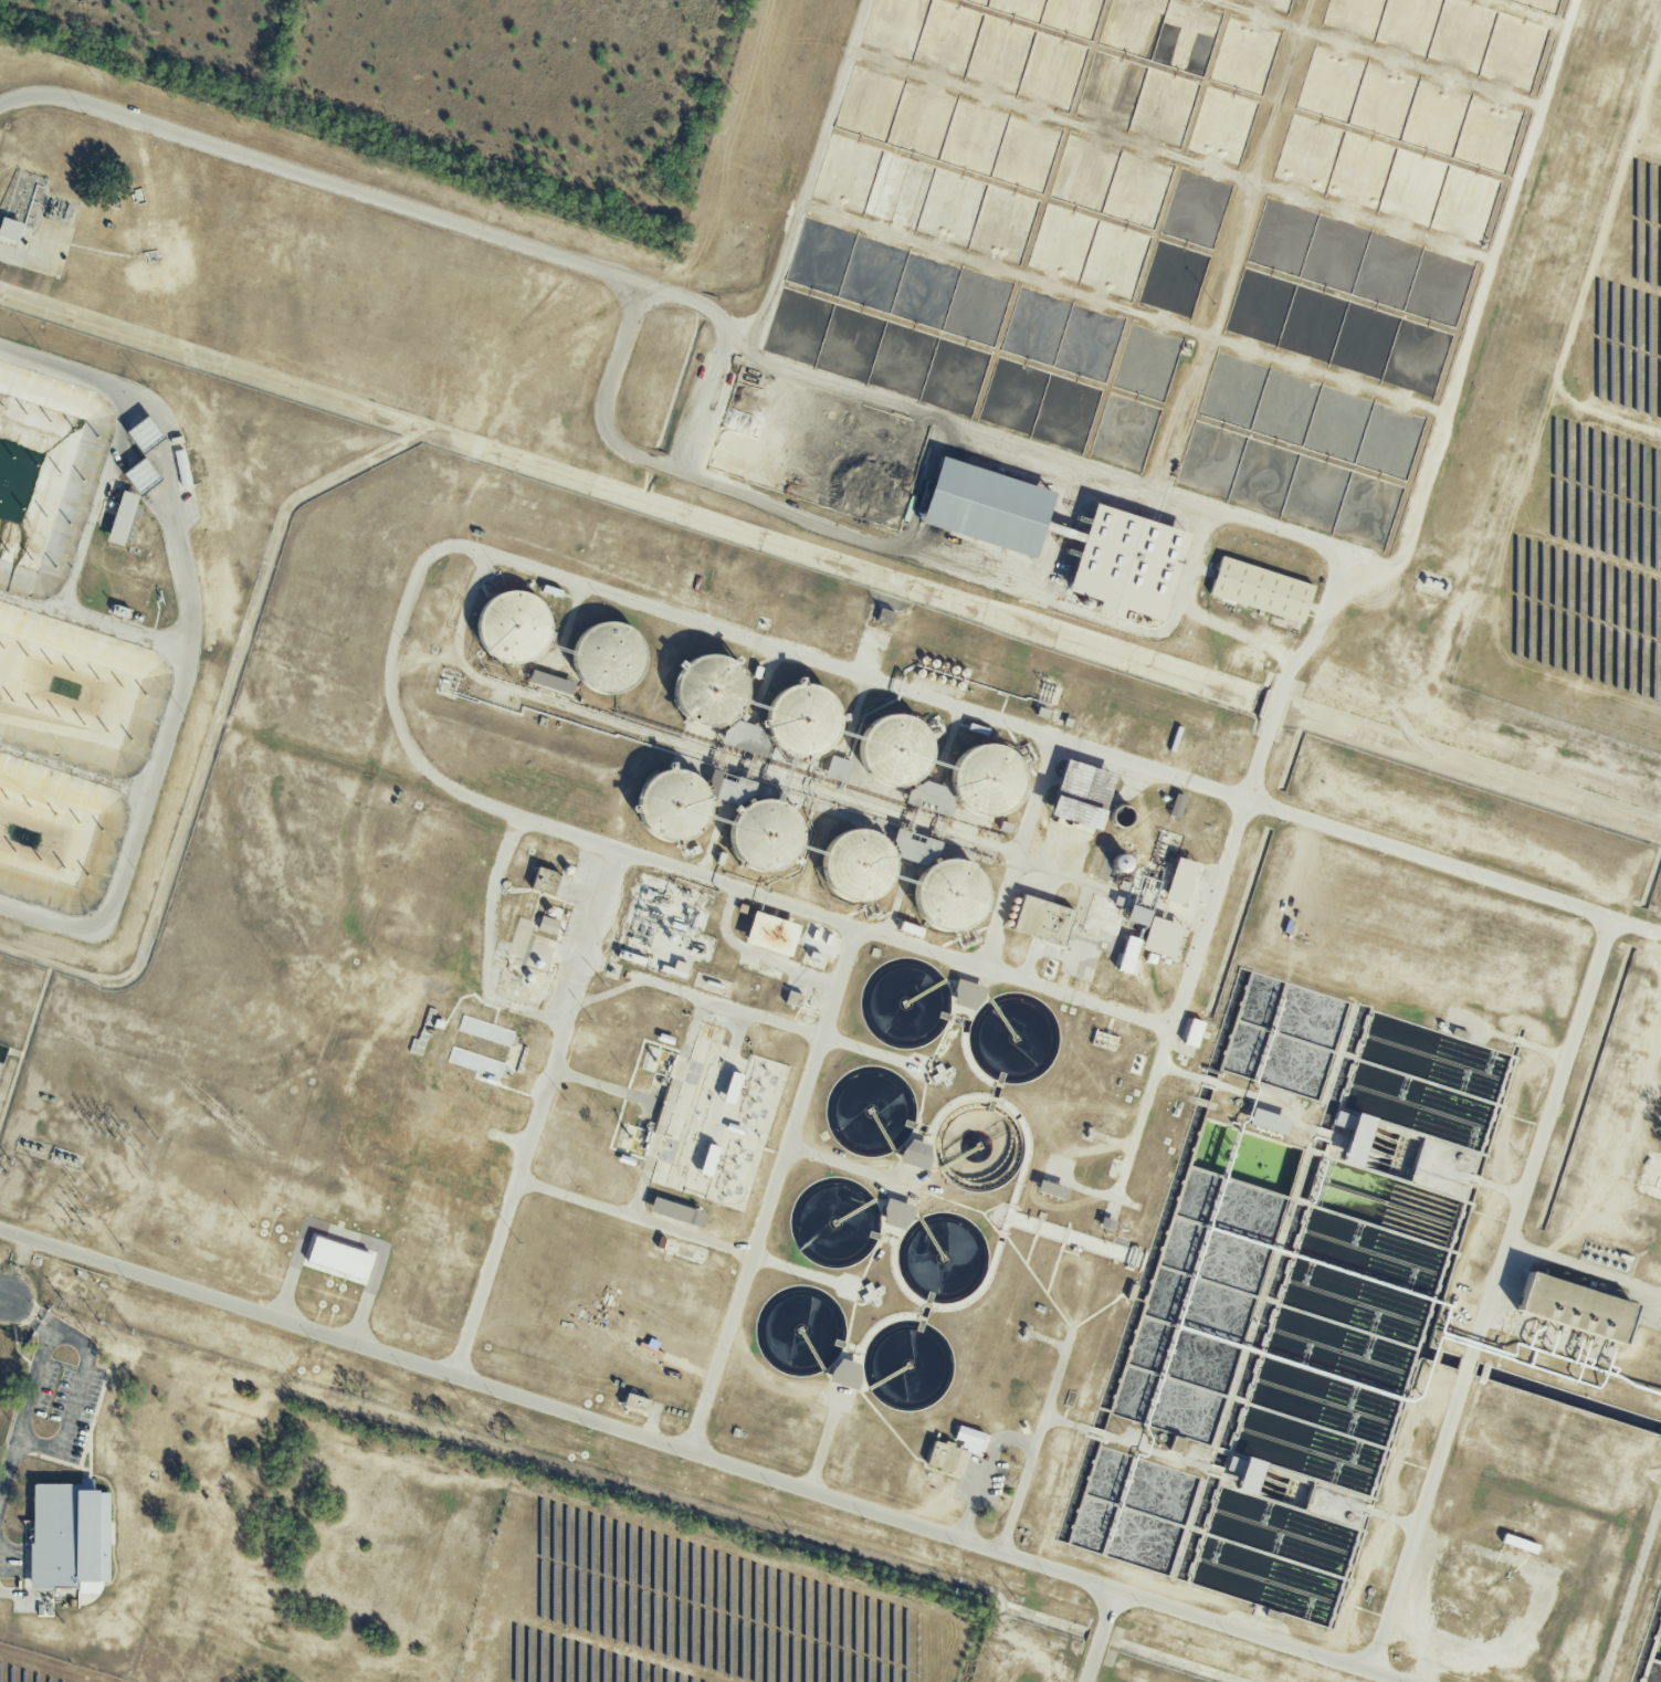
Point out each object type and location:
road: (812, 177)
building: (9, 229)
road: (41, 261)
road: (619, 277)
road: (1479, 311)
road: (705, 401)
solar farm: (1589, 481)
building: (987, 507)
building: (122, 518)
road: (830, 526)
building: (1127, 564)
building: (1261, 590)
building: (509, 623)
road: (189, 644)
building: (609, 656)
road: (808, 665)
building: (551, 682)
road: (1286, 687)
building: (895, 748)
building: (837, 768)
building: (1082, 793)
building: (929, 797)
building: (1177, 805)
wastewater plant: (827, 860)
building: (1180, 880)
building: (545, 881)
building: (1142, 897)
building: (1042, 919)
building: (548, 925)
building: (771, 933)
building: (1161, 936)
road: (896, 944)
road: (758, 954)
building: (1128, 954)
building: (967, 995)
building: (792, 998)
road: (743, 1016)
building: (1192, 1032)
power substation: (2, 1052)
building: (732, 1087)
road: (807, 1096)
road: (664, 1111)
road: (538, 1115)
building: (1269, 1121)
building: (1354, 1134)
building: (916, 1154)
road: (850, 1167)
building: (1052, 1189)
building: (676, 1211)
building: (897, 1213)
road: (634, 1221)
building: (1107, 1223)
building: (340, 1259)
road: (1583, 1268)
road: (1495, 1270)
road: (1, 1295)
road: (1, 1301)
road: (227, 1301)
road: (15, 1304)
building: (1577, 1307)
road: (53, 1329)
road: (719, 1354)
solar farm: (6, 1359)
road: (2, 1369)
building: (845, 1373)
building: (637, 1402)
building: (969, 1439)
road: (51, 1447)
road: (819, 1450)
building: (947, 1457)
road: (9, 1467)
road: (981, 1468)
road: (782, 1481)
road: (1013, 1503)
building: (69, 1536)
solar farm: (698, 1601)
road: (1097, 1636)
road: (1255, 1636)
solar farm: (42, 1669)

